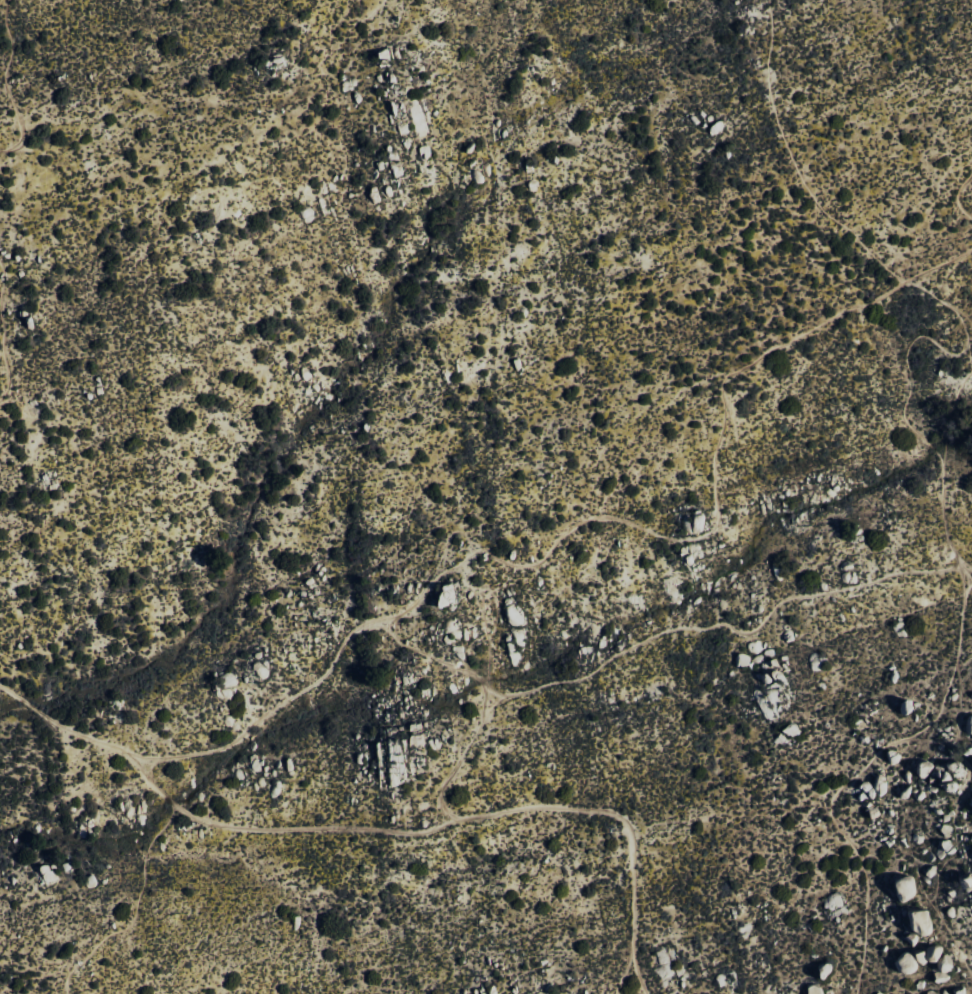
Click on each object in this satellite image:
road: (957, 193)
building: (694, 523)
building: (741, 659)
road: (937, 712)
building: (787, 736)
building: (971, 760)
building: (922, 769)
building: (964, 880)
building: (902, 887)
building: (917, 923)
building: (942, 962)
building: (813, 990)
building: (876, 992)

